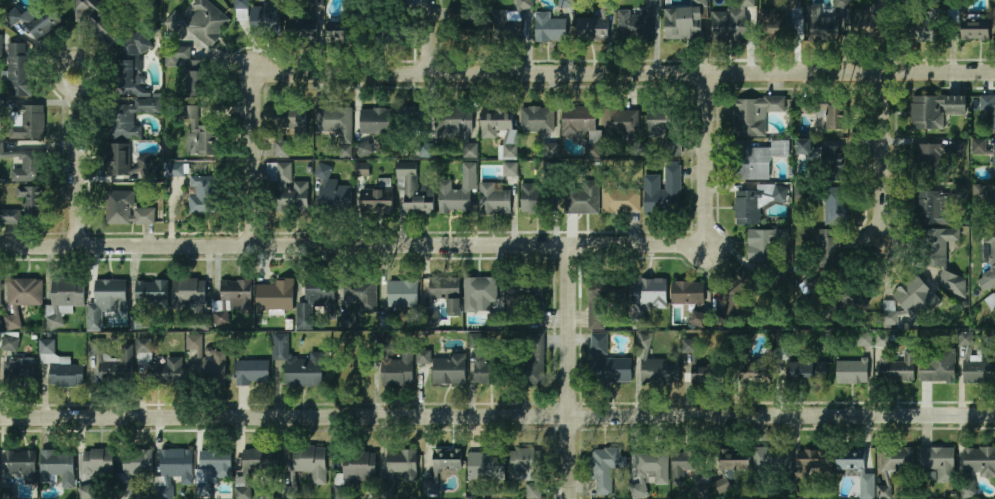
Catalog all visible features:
building: (240, 3)
building: (316, 3)
building: (566, 3)
building: (654, 3)
building: (794, 3)
building: (842, 4)
building: (266, 16)
building: (96, 20)
building: (775, 21)
building: (201, 22)
building: (511, 22)
building: (44, 23)
building: (683, 23)
building: (789, 23)
building: (994, 23)
building: (729, 24)
building: (635, 25)
building: (824, 25)
building: (305, 27)
building: (463, 27)
building: (595, 27)
building: (950, 27)
building: (549, 28)
building: (393, 30)
building: (927, 31)
building: (343, 32)
building: (976, 33)
building: (874, 35)
road: (430, 36)
building: (133, 64)
building: (16, 68)
building: (188, 70)
road: (627, 73)
building: (957, 105)
building: (988, 106)
building: (813, 109)
building: (926, 112)
building: (755, 114)
building: (838, 116)
building: (132, 117)
building: (536, 119)
building: (414, 120)
building: (579, 120)
building: (374, 121)
building: (25, 122)
building: (495, 122)
building: (620, 122)
building: (335, 125)
building: (286, 126)
building: (457, 127)
building: (665, 127)
building: (199, 134)
building: (804, 146)
building: (979, 146)
building: (958, 147)
building: (364, 148)
road: (878, 148)
building: (425, 150)
building: (593, 150)
building: (507, 152)
road: (708, 156)
building: (755, 159)
road: (254, 160)
road: (78, 161)
building: (118, 161)
building: (22, 162)
building: (927, 162)
building: (994, 163)
building: (362, 169)
building: (511, 169)
building: (174, 170)
building: (834, 187)
building: (287, 189)
building: (331, 190)
building: (663, 190)
building: (963, 190)
building: (462, 191)
building: (413, 193)
building: (201, 195)
building: (537, 197)
building: (581, 197)
building: (619, 198)
building: (494, 199)
building: (30, 200)
building: (375, 201)
building: (755, 202)
building: (930, 208)
building: (993, 208)
building: (125, 210)
building: (10, 217)
road: (878, 225)
road: (352, 244)
building: (827, 247)
building: (769, 252)
building: (990, 257)
building: (939, 259)
building: (443, 290)
building: (0, 292)
building: (24, 292)
building: (67, 292)
building: (235, 292)
building: (402, 293)
building: (650, 293)
building: (687, 293)
building: (188, 294)
building: (479, 294)
building: (273, 295)
building: (360, 295)
building: (861, 295)
building: (319, 296)
building: (736, 297)
building: (915, 297)
building: (525, 298)
building: (147, 300)
building: (605, 300)
building: (105, 301)
building: (990, 301)
building: (890, 314)
building: (698, 318)
building: (431, 320)
building: (386, 322)
building: (966, 338)
building: (865, 339)
building: (883, 339)
building: (280, 340)
building: (477, 340)
building: (643, 342)
building: (9, 343)
building: (143, 346)
building: (688, 346)
building: (94, 347)
building: (424, 357)
building: (530, 359)
building: (607, 363)
building: (937, 365)
building: (60, 367)
building: (897, 367)
building: (117, 368)
building: (213, 368)
building: (449, 369)
building: (488, 369)
building: (304, 370)
building: (398, 370)
building: (164, 371)
road: (571, 371)
building: (659, 371)
building: (980, 371)
building: (252, 372)
building: (852, 372)
building: (19, 373)
building: (806, 373)
building: (703, 375)
building: (755, 376)
road: (497, 416)
building: (897, 458)
building: (447, 459)
building: (97, 460)
building: (735, 460)
building: (851, 460)
building: (776, 461)
building: (979, 461)
building: (310, 462)
building: (815, 462)
building: (938, 462)
building: (138, 463)
building: (176, 463)
building: (22, 464)
building: (403, 464)
building: (522, 464)
building: (486, 465)
building: (57, 467)
building: (359, 467)
building: (211, 468)
building: (254, 468)
building: (604, 468)
building: (687, 468)
building: (648, 470)
building: (721, 485)
building: (430, 488)
building: (968, 490)
building: (533, 491)
building: (703, 491)
building: (85, 492)

